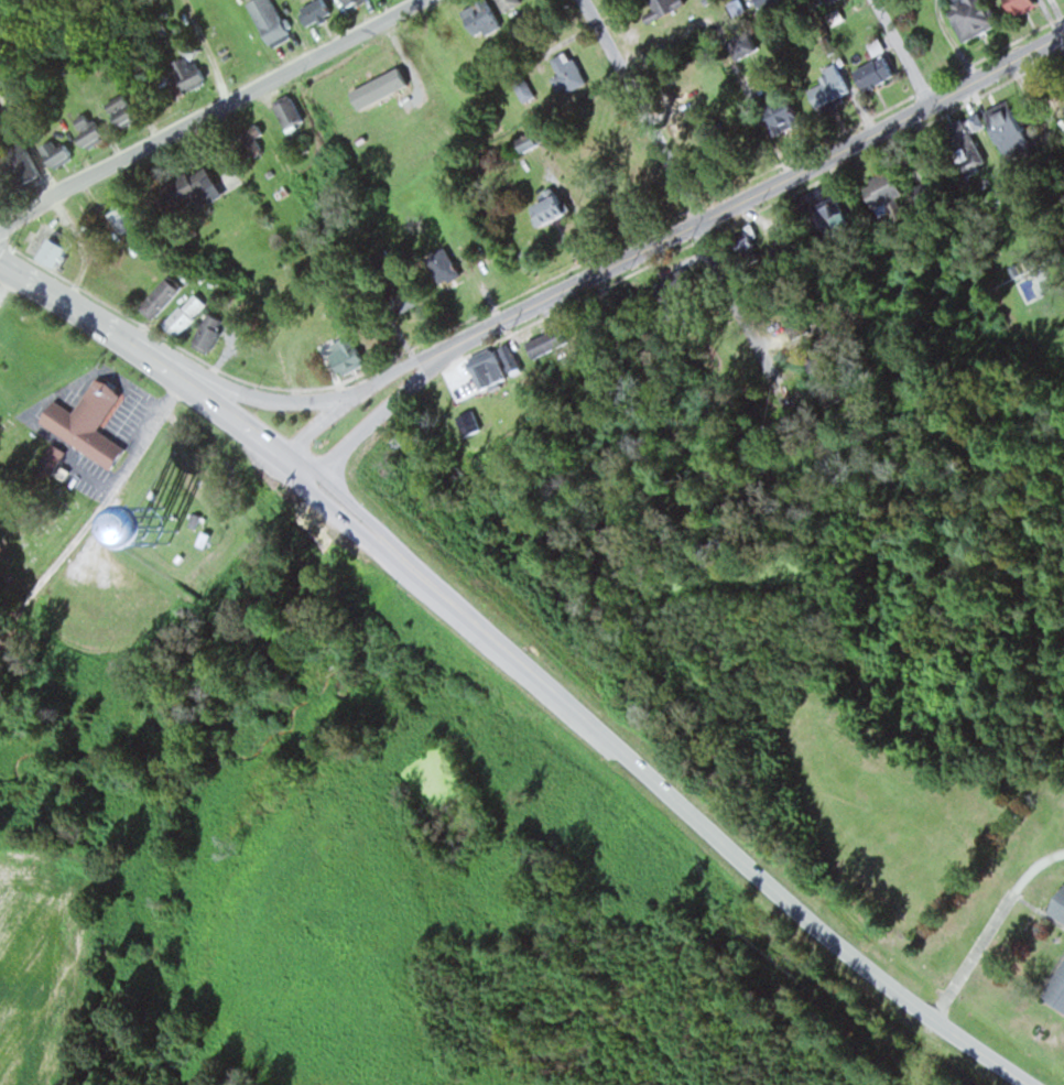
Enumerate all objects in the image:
building: (835, 1)
building: (354, 2)
building: (512, 3)
building: (769, 3)
building: (1016, 6)
building: (666, 7)
building: (318, 11)
building: (486, 17)
building: (967, 17)
building: (272, 20)
building: (450, 34)
building: (752, 45)
road: (903, 52)
building: (880, 70)
building: (571, 72)
building: (187, 73)
building: (835, 79)
building: (126, 107)
road: (214, 112)
building: (293, 112)
building: (795, 117)
building: (1021, 124)
building: (93, 128)
building: (967, 132)
building: (538, 141)
building: (59, 150)
building: (30, 161)
road: (688, 186)
building: (195, 189)
building: (894, 189)
building: (555, 205)
building: (838, 208)
building: (130, 215)
road: (672, 237)
building: (754, 245)
building: (53, 246)
building: (166, 295)
building: (191, 313)
road: (101, 324)
building: (803, 326)
building: (215, 330)
building: (552, 344)
building: (355, 350)
building: (517, 359)
building: (500, 378)
road: (293, 401)
building: (91, 422)
building: (55, 462)
building: (229, 509)
road: (94, 516)
building: (225, 527)
road: (408, 560)
building: (1055, 903)
road: (812, 920)
building: (1054, 987)

